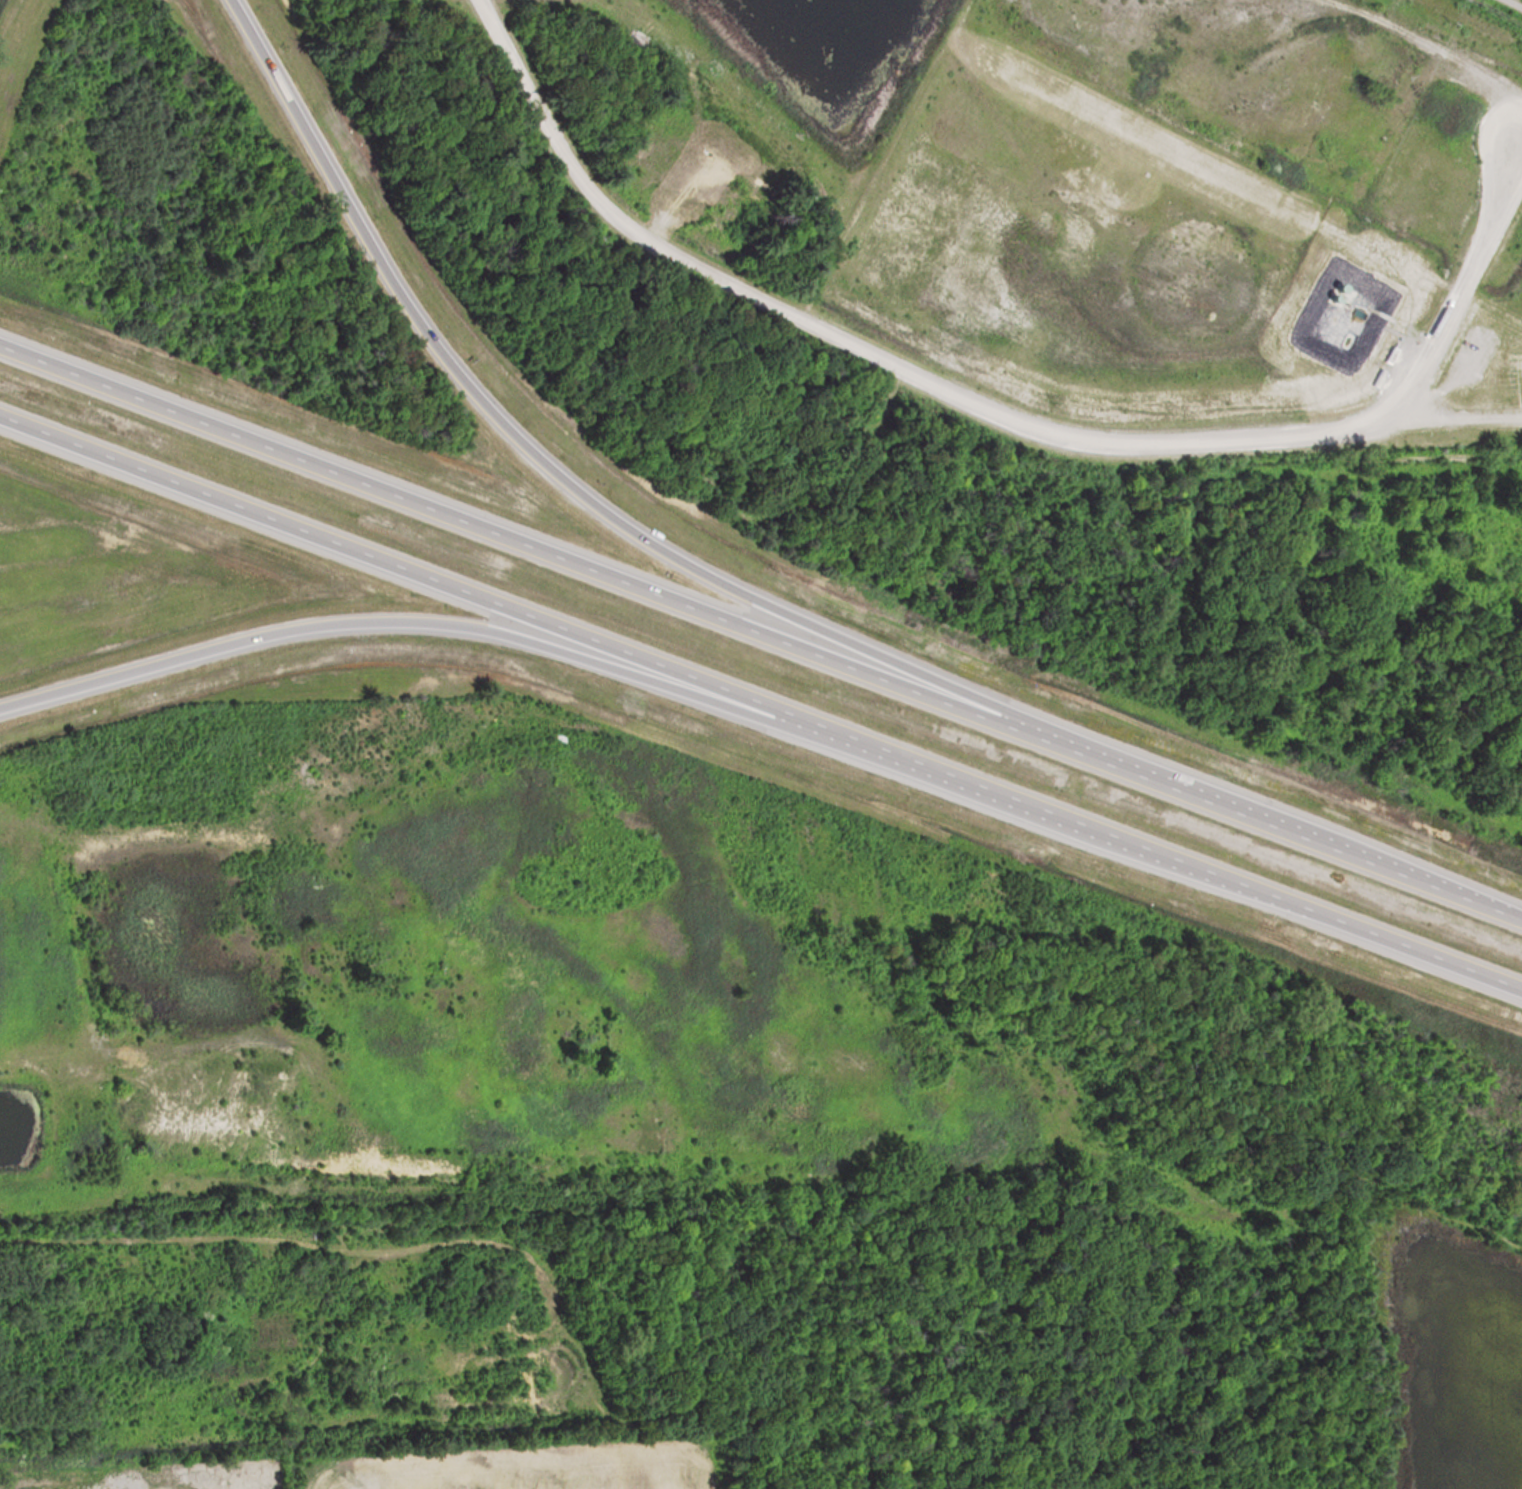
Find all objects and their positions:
road: (1513, 4)
road: (1050, 431)
road: (542, 463)
road: (382, 624)
road: (761, 631)
road: (761, 704)

